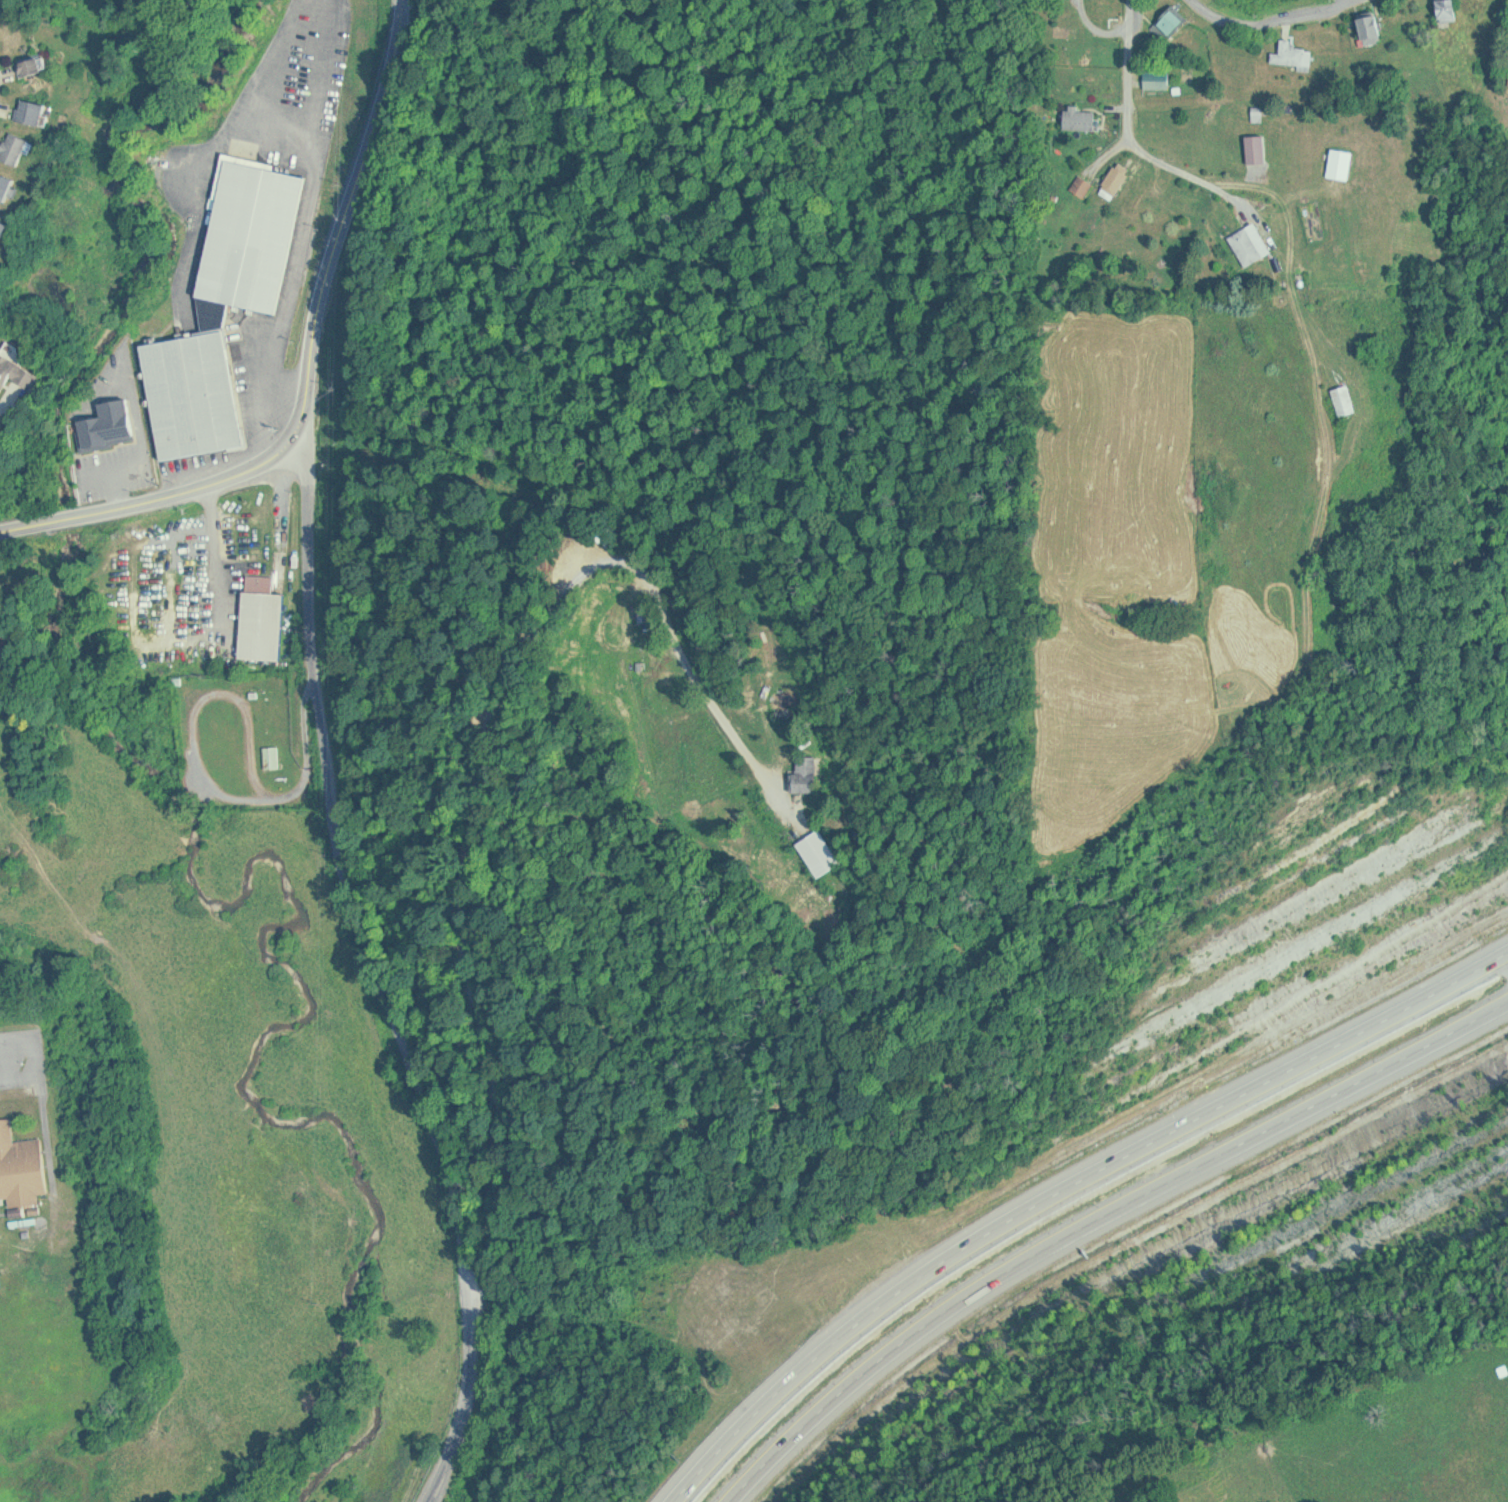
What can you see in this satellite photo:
road: (420, 10)
building: (1450, 12)
building: (1174, 21)
road: (1278, 23)
building: (1373, 29)
building: (1296, 55)
building: (31, 67)
road: (1132, 85)
building: (33, 112)
building: (1083, 119)
building: (16, 149)
building: (1258, 149)
building: (1343, 164)
building: (1084, 185)
building: (5, 187)
building: (0, 220)
building: (254, 236)
building: (1252, 244)
road: (316, 330)
building: (13, 372)
building: (194, 395)
building: (1346, 399)
building: (112, 427)
road: (76, 523)
road: (34, 531)
building: (263, 617)
building: (275, 756)
building: (809, 773)
building: (821, 852)
road: (371, 947)
road: (560, 1069)
building: (21, 1168)
road: (1066, 1192)
road: (1099, 1223)
road: (608, 1319)

